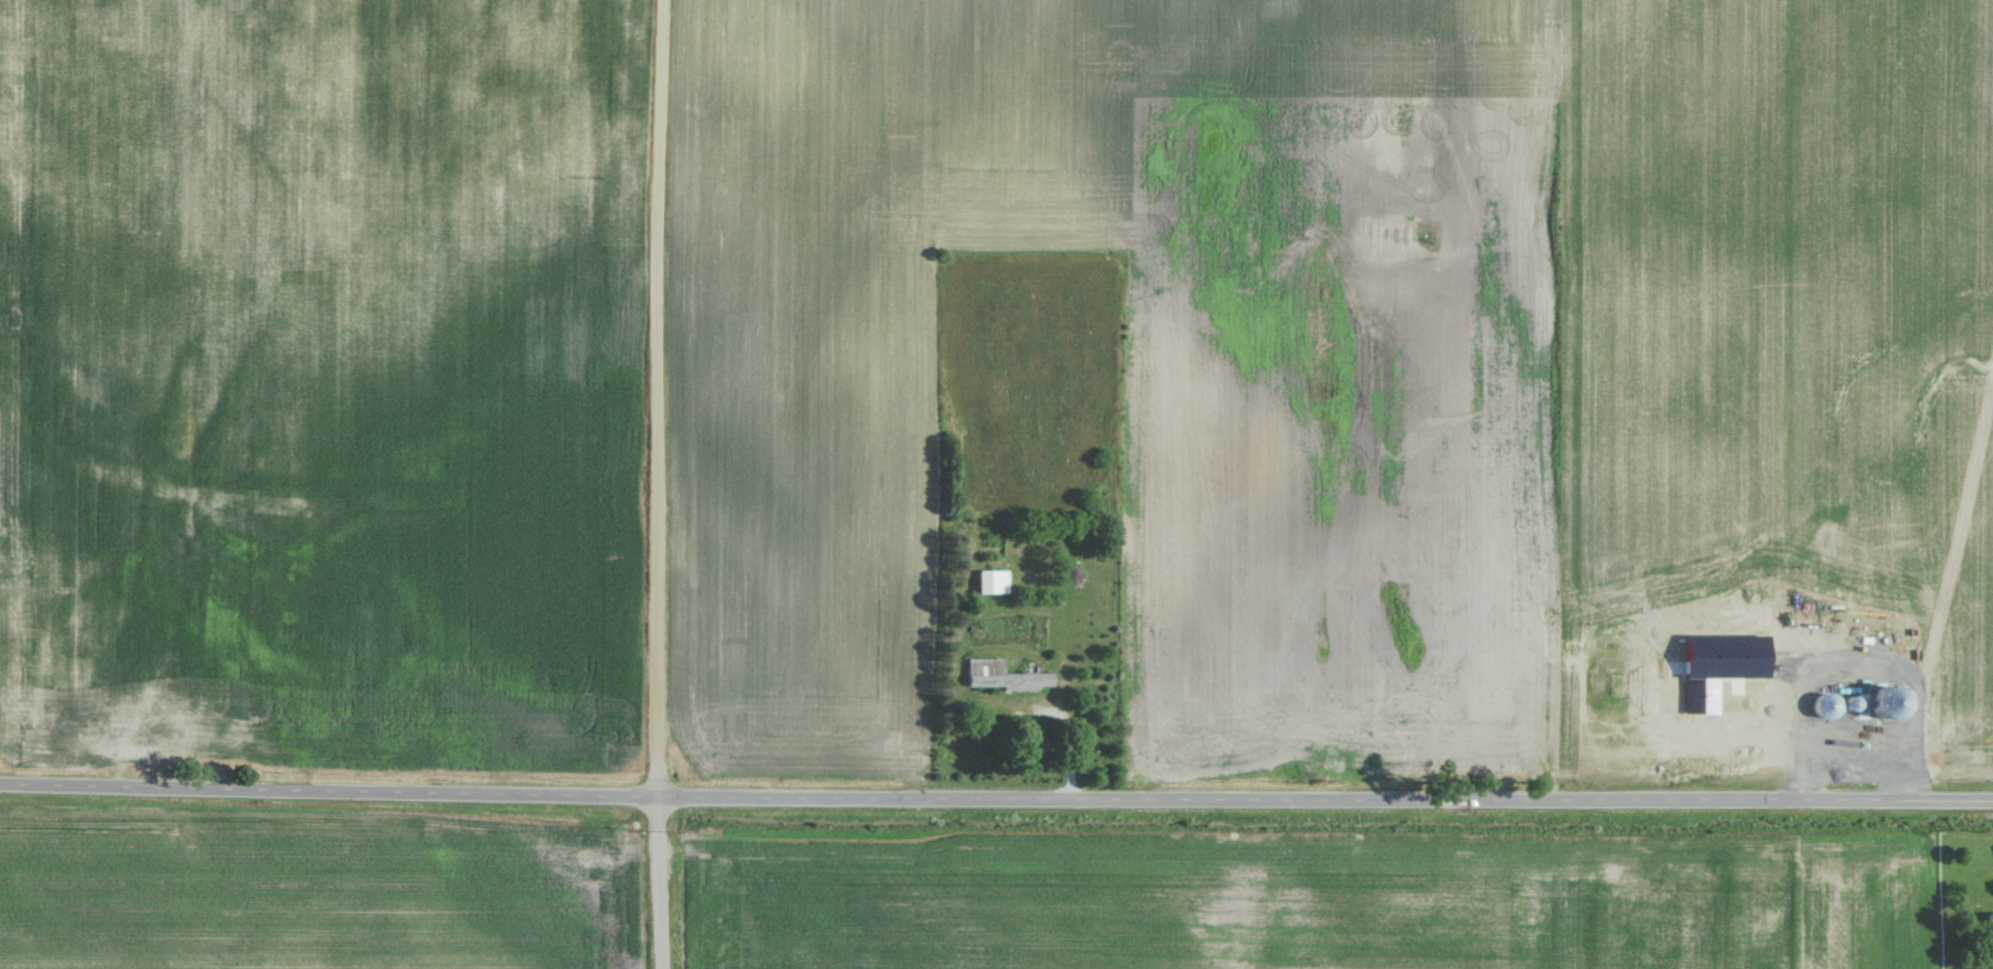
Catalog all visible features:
road: (668, 484)
building: (996, 582)
road: (1862, 671)
building: (1007, 676)
road: (1860, 762)
road: (996, 800)

